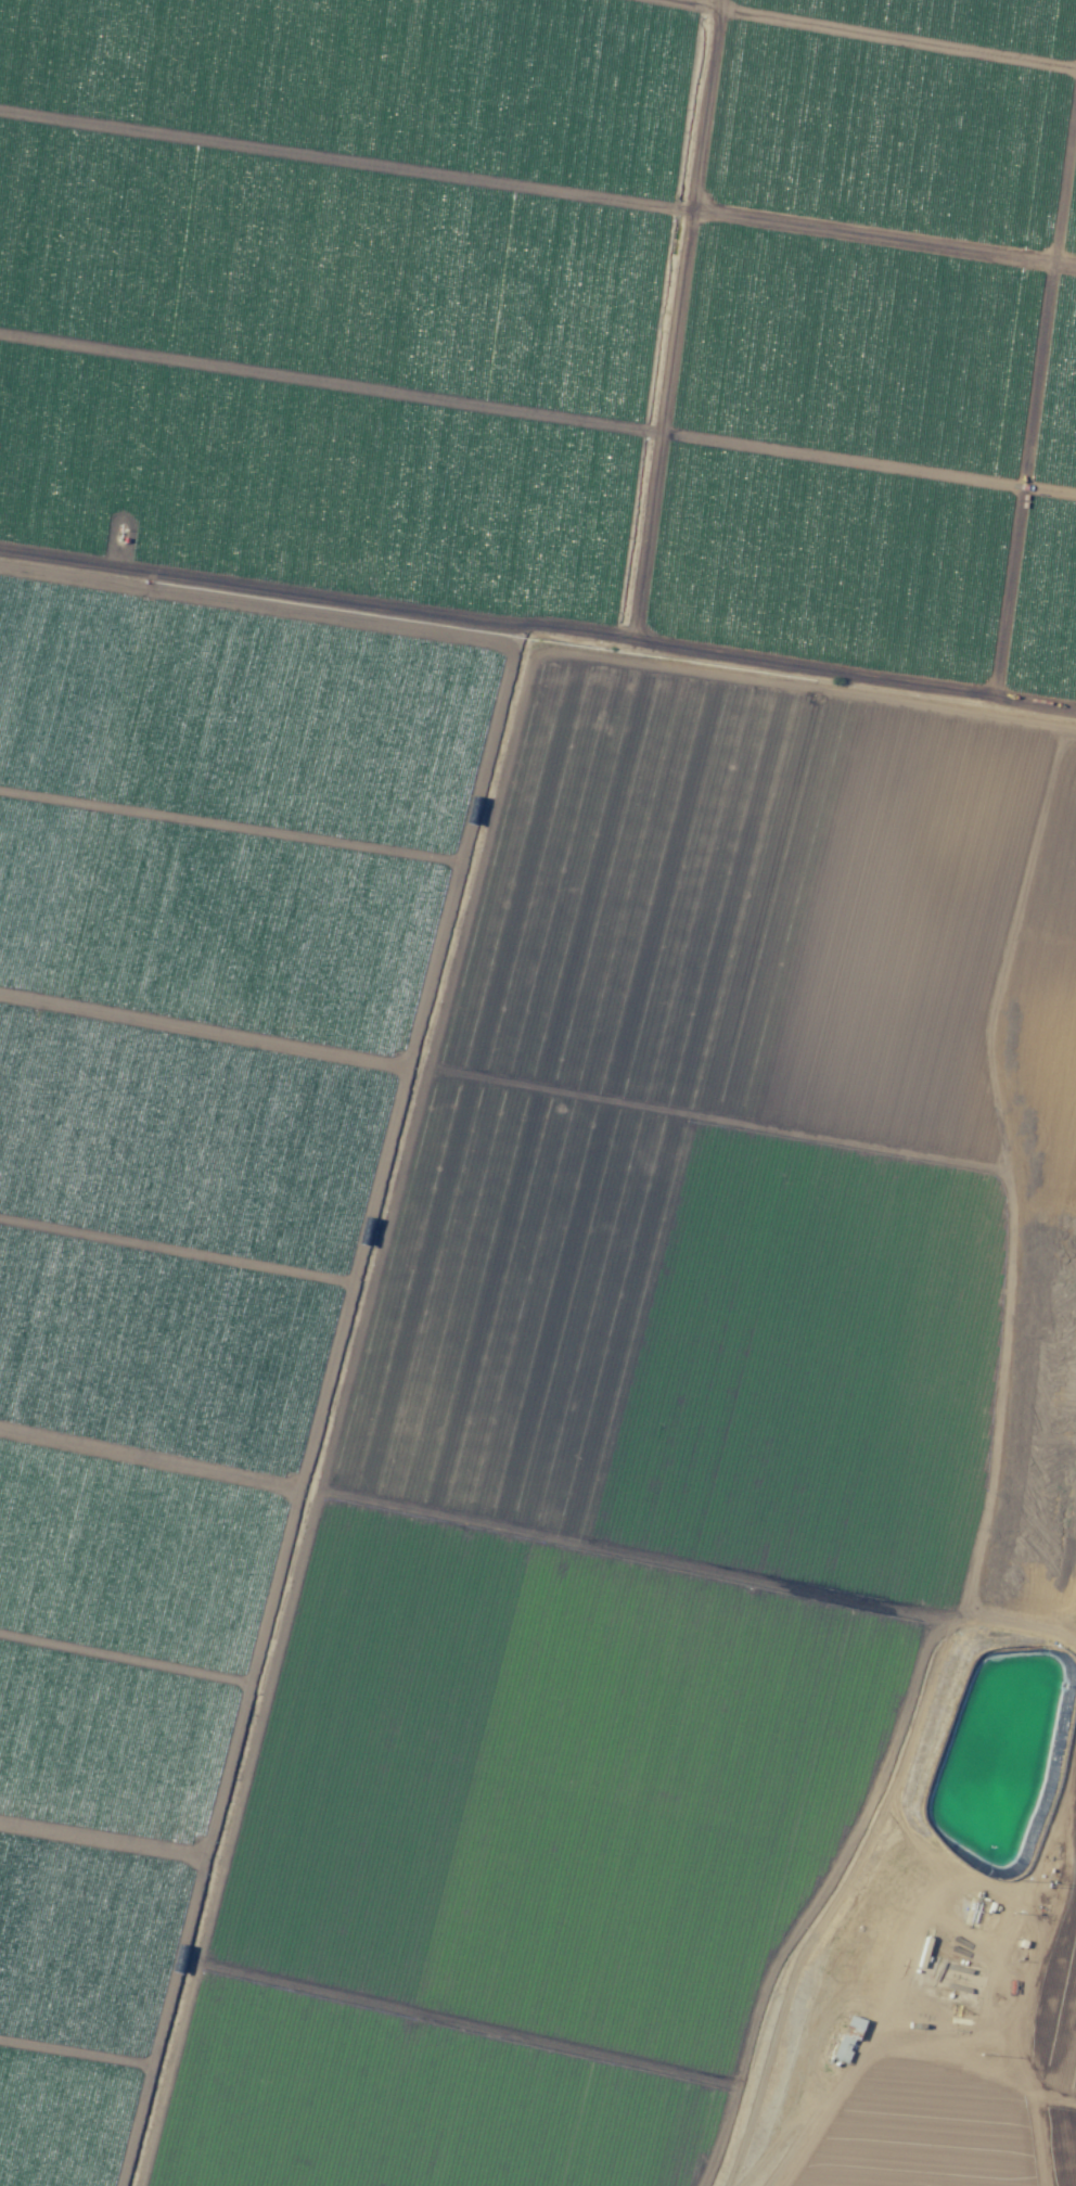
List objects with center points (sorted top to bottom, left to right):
crop: (538, 1092)
road: (1029, 1946)
building: (844, 2038)

